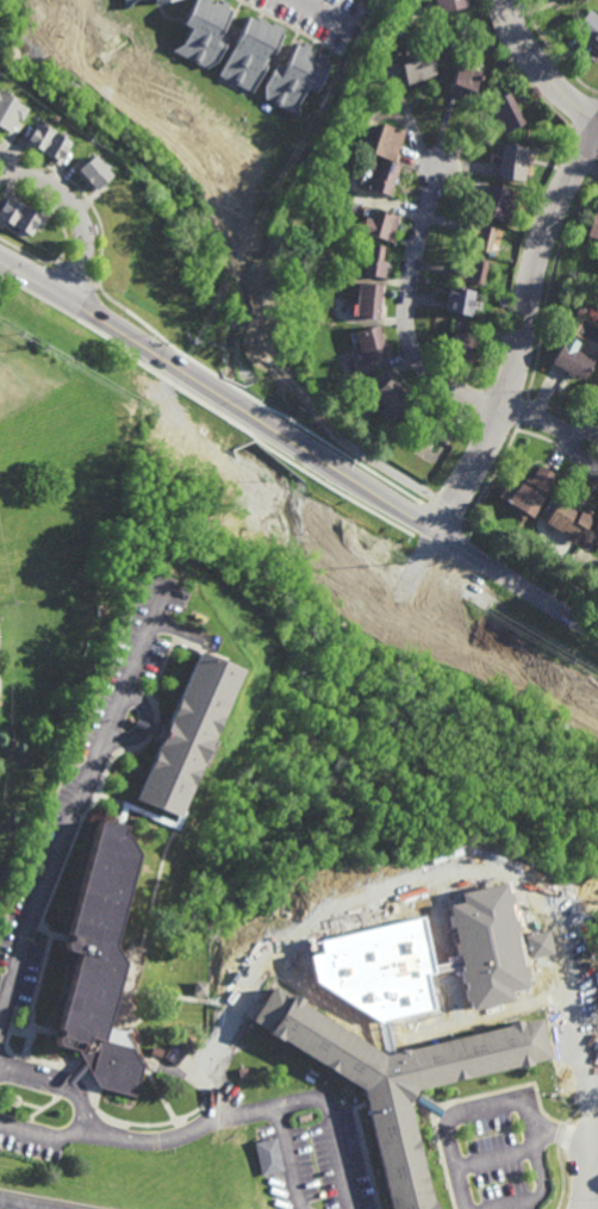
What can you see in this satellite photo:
building: (158, 1)
building: (127, 2)
building: (449, 5)
road: (313, 10)
building: (590, 27)
building: (205, 31)
building: (251, 51)
building: (418, 64)
road: (540, 68)
building: (295, 77)
building: (465, 81)
building: (496, 83)
building: (8, 111)
building: (505, 113)
building: (45, 142)
building: (388, 142)
building: (515, 163)
building: (92, 173)
building: (384, 176)
building: (497, 204)
road: (76, 210)
building: (18, 213)
building: (385, 226)
building: (594, 229)
building: (478, 238)
building: (375, 262)
building: (472, 274)
building: (491, 278)
building: (368, 301)
building: (462, 305)
road: (407, 312)
building: (583, 313)
building: (318, 319)
road: (523, 337)
building: (373, 342)
building: (465, 342)
building: (574, 355)
building: (597, 388)
building: (394, 392)
road: (536, 418)
building: (435, 422)
road: (571, 437)
road: (300, 444)
building: (529, 488)
building: (569, 516)
building: (594, 529)
building: (192, 734)
road: (79, 798)
building: (4, 870)
building: (100, 965)
building: (199, 986)
road: (62, 1078)
building: (399, 1080)
road: (480, 1104)
road: (337, 1129)
road: (142, 1138)
building: (269, 1153)
road: (509, 1153)
road: (288, 1157)
road: (590, 1186)
road: (540, 1191)
road: (27, 1203)

